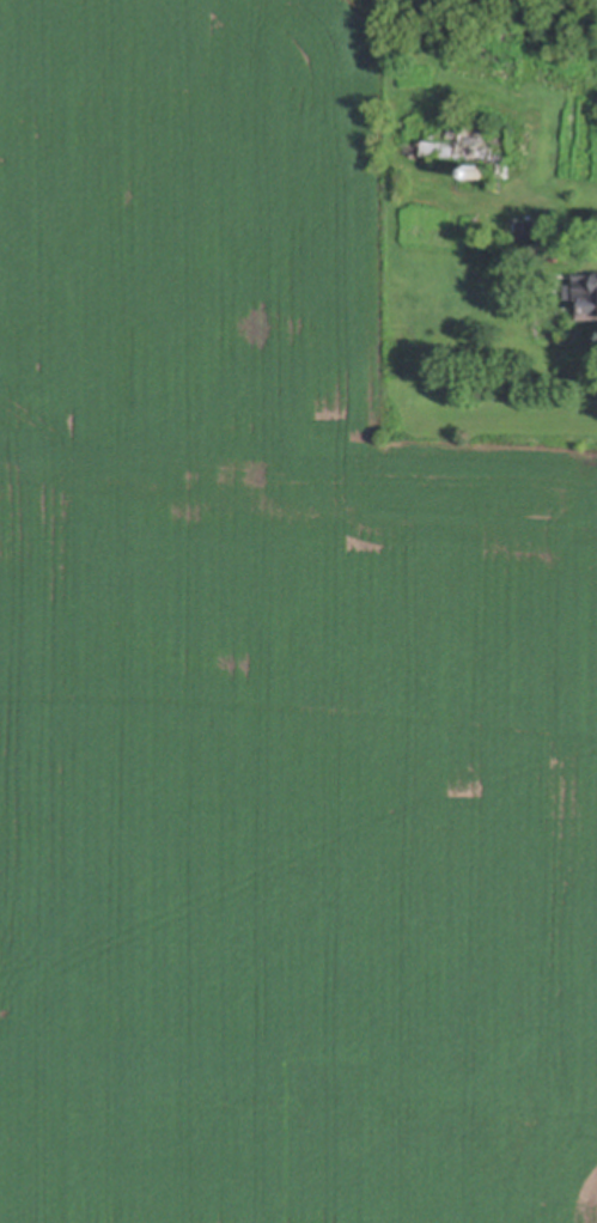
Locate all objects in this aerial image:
building: (480, 176)
building: (529, 235)
building: (571, 297)
building: (587, 302)

